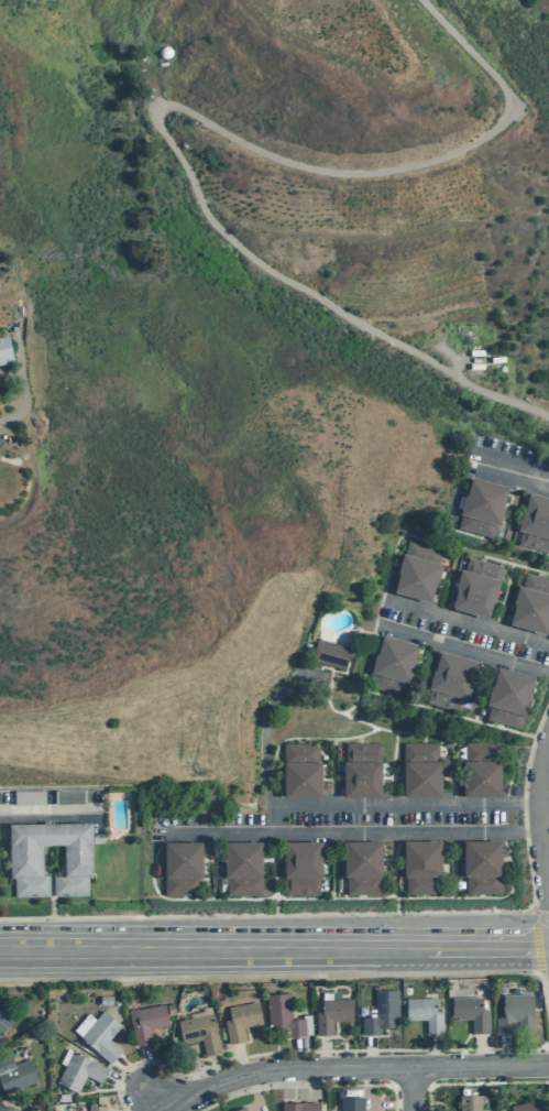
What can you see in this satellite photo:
road: (163, 109)
building: (4, 351)
road: (515, 472)
building: (482, 507)
building: (535, 523)
building: (418, 571)
building: (476, 587)
building: (531, 604)
road: (469, 622)
road: (464, 649)
building: (331, 654)
building: (393, 665)
building: (451, 680)
building: (509, 696)
road: (265, 738)
road: (532, 749)
building: (301, 770)
building: (362, 770)
building: (421, 770)
building: (481, 770)
building: (70, 797)
building: (29, 798)
road: (525, 803)
road: (394, 804)
road: (50, 816)
road: (525, 818)
road: (539, 824)
road: (526, 831)
road: (354, 832)
building: (25, 858)
building: (422, 865)
building: (482, 865)
building: (301, 867)
building: (363, 867)
building: (183, 868)
building: (243, 868)
road: (300, 914)
road: (537, 938)
road: (319, 949)
road: (44, 952)
road: (545, 973)
road: (293, 976)
building: (471, 1012)
building: (514, 1012)
building: (382, 1013)
building: (425, 1013)
building: (332, 1014)
building: (284, 1015)
building: (241, 1021)
building: (146, 1022)
building: (1, 1028)
building: (200, 1032)
building: (102, 1036)
road: (485, 1050)
road: (311, 1052)
road: (372, 1052)
road: (435, 1052)
road: (505, 1052)
road: (301, 1054)
road: (325, 1054)
road: (240, 1061)
road: (353, 1067)
road: (145, 1069)
building: (79, 1071)
road: (191, 1071)
building: (15, 1074)
road: (133, 1075)
road: (477, 1082)
road: (128, 1083)
road: (314, 1083)
road: (306, 1086)
road: (413, 1089)
road: (254, 1092)
road: (158, 1100)
building: (471, 1102)
building: (351, 1103)
road: (373, 1103)
building: (529, 1105)
building: (300, 1107)
building: (96, 1108)
building: (7, 1109)
building: (241, 1109)
road: (169, 1110)

